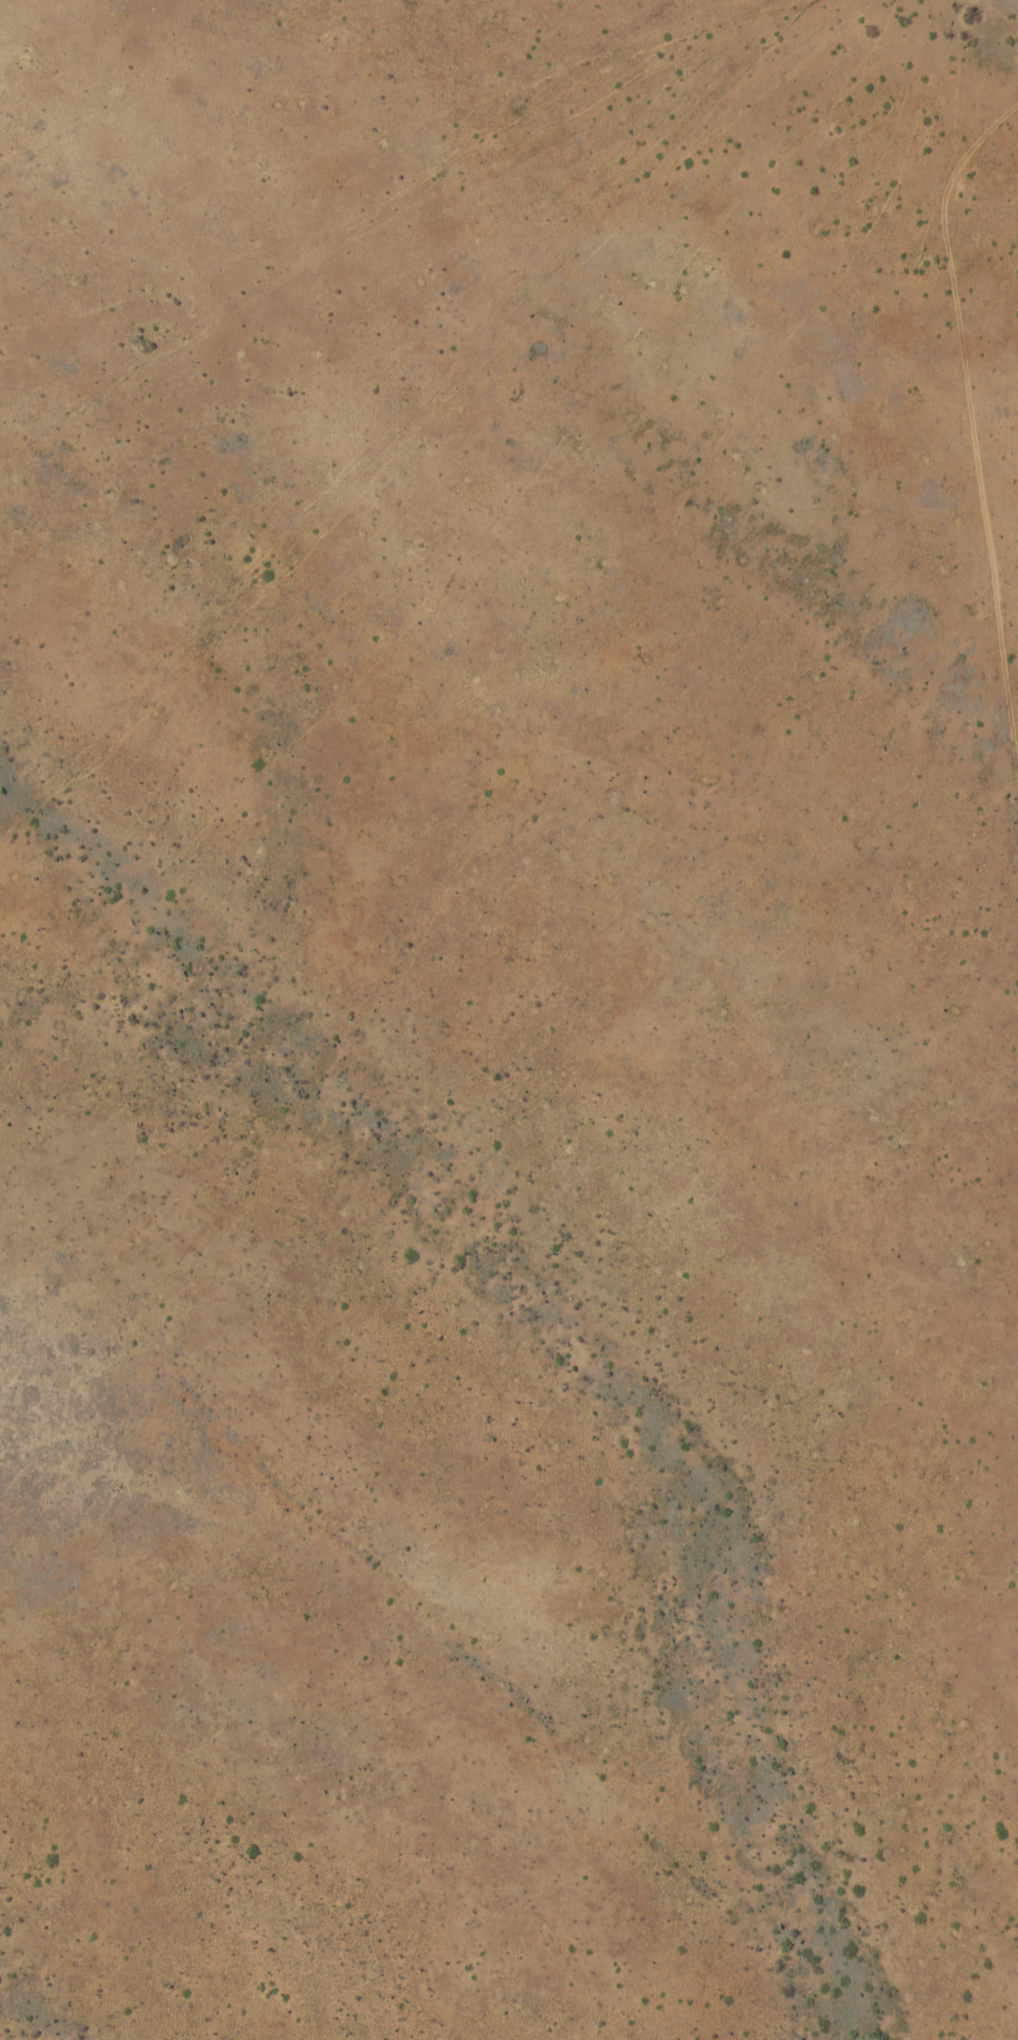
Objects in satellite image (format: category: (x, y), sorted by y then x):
road: (1012, 634)

